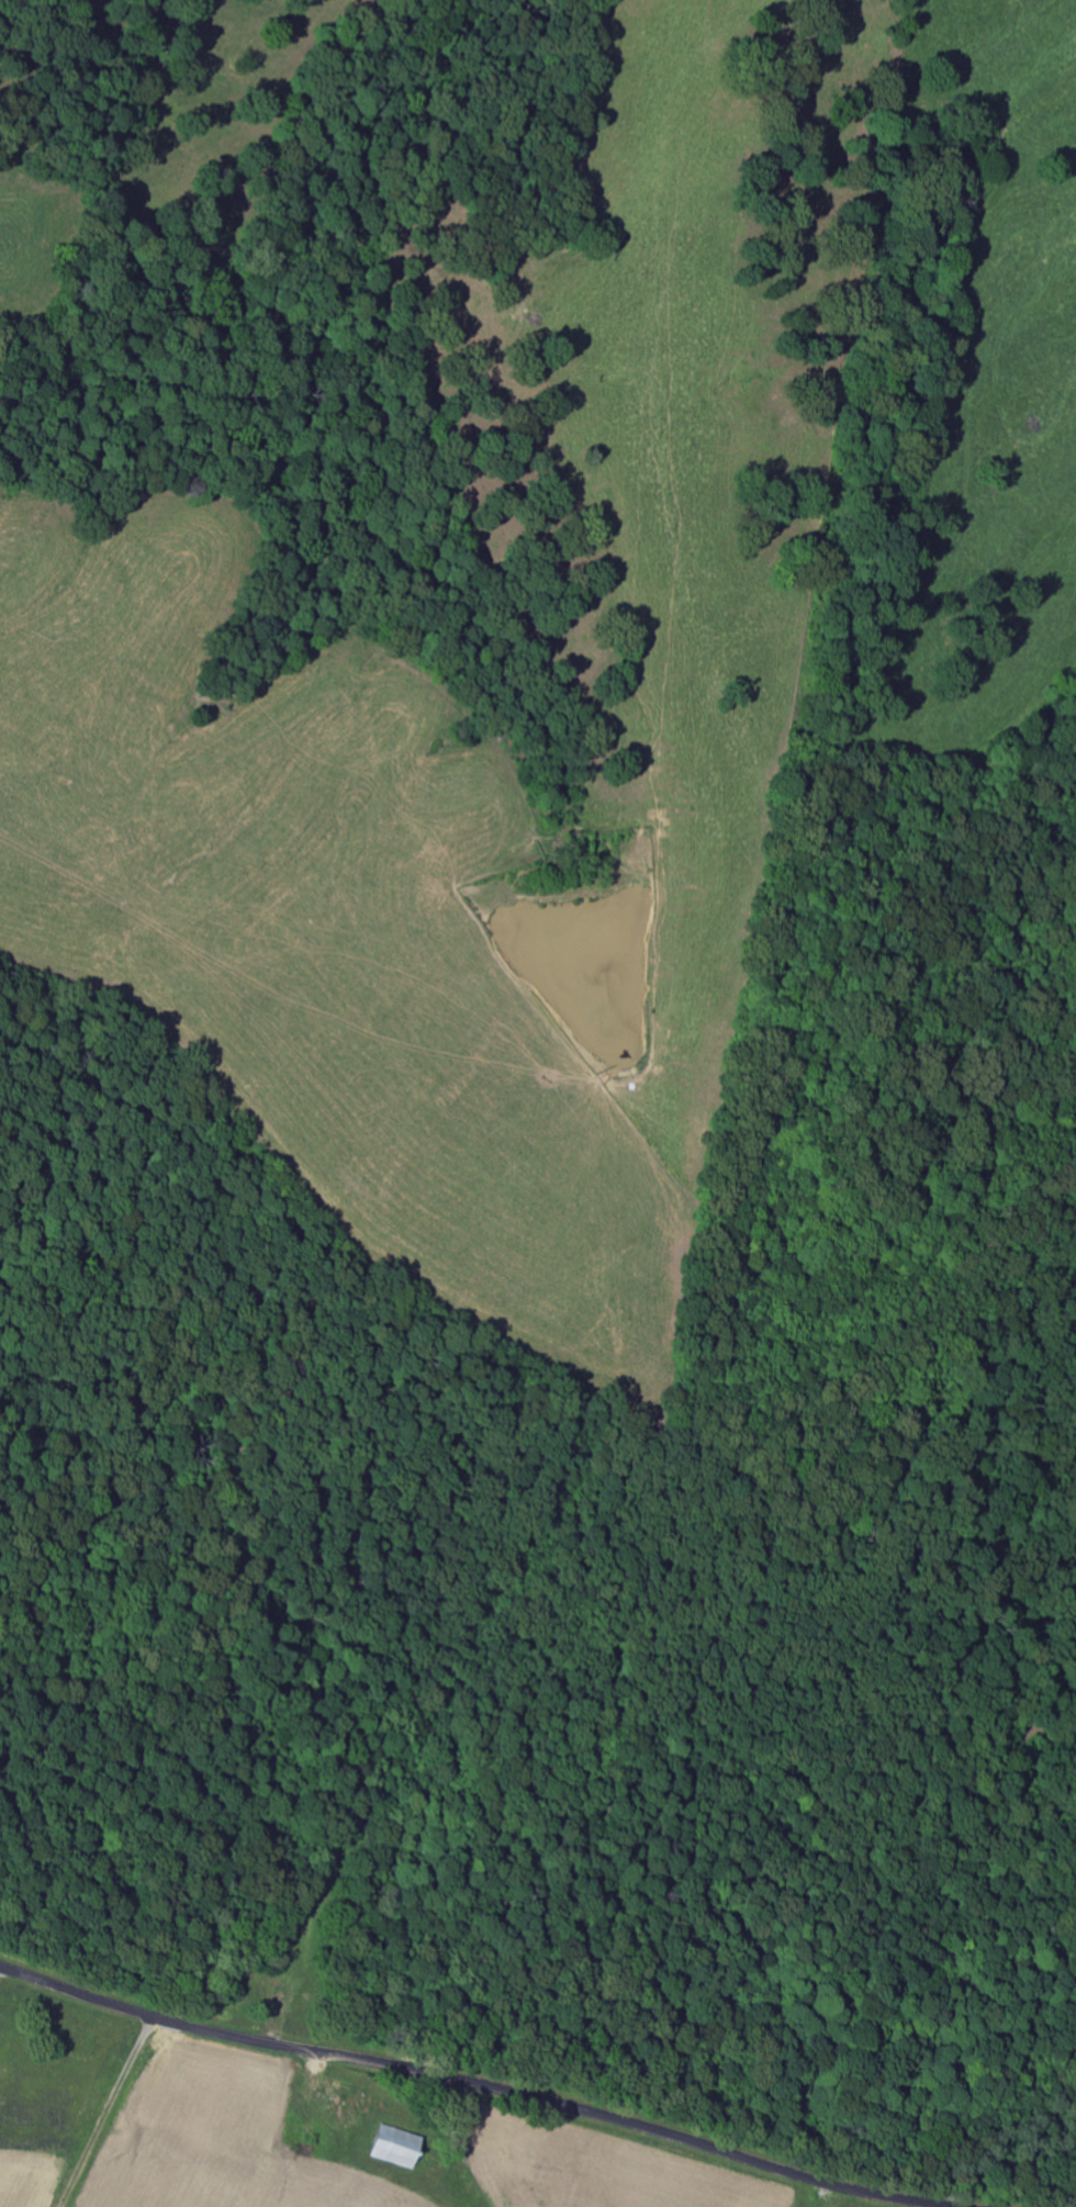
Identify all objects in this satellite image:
road: (473, 2086)
building: (402, 2147)
road: (861, 2199)

